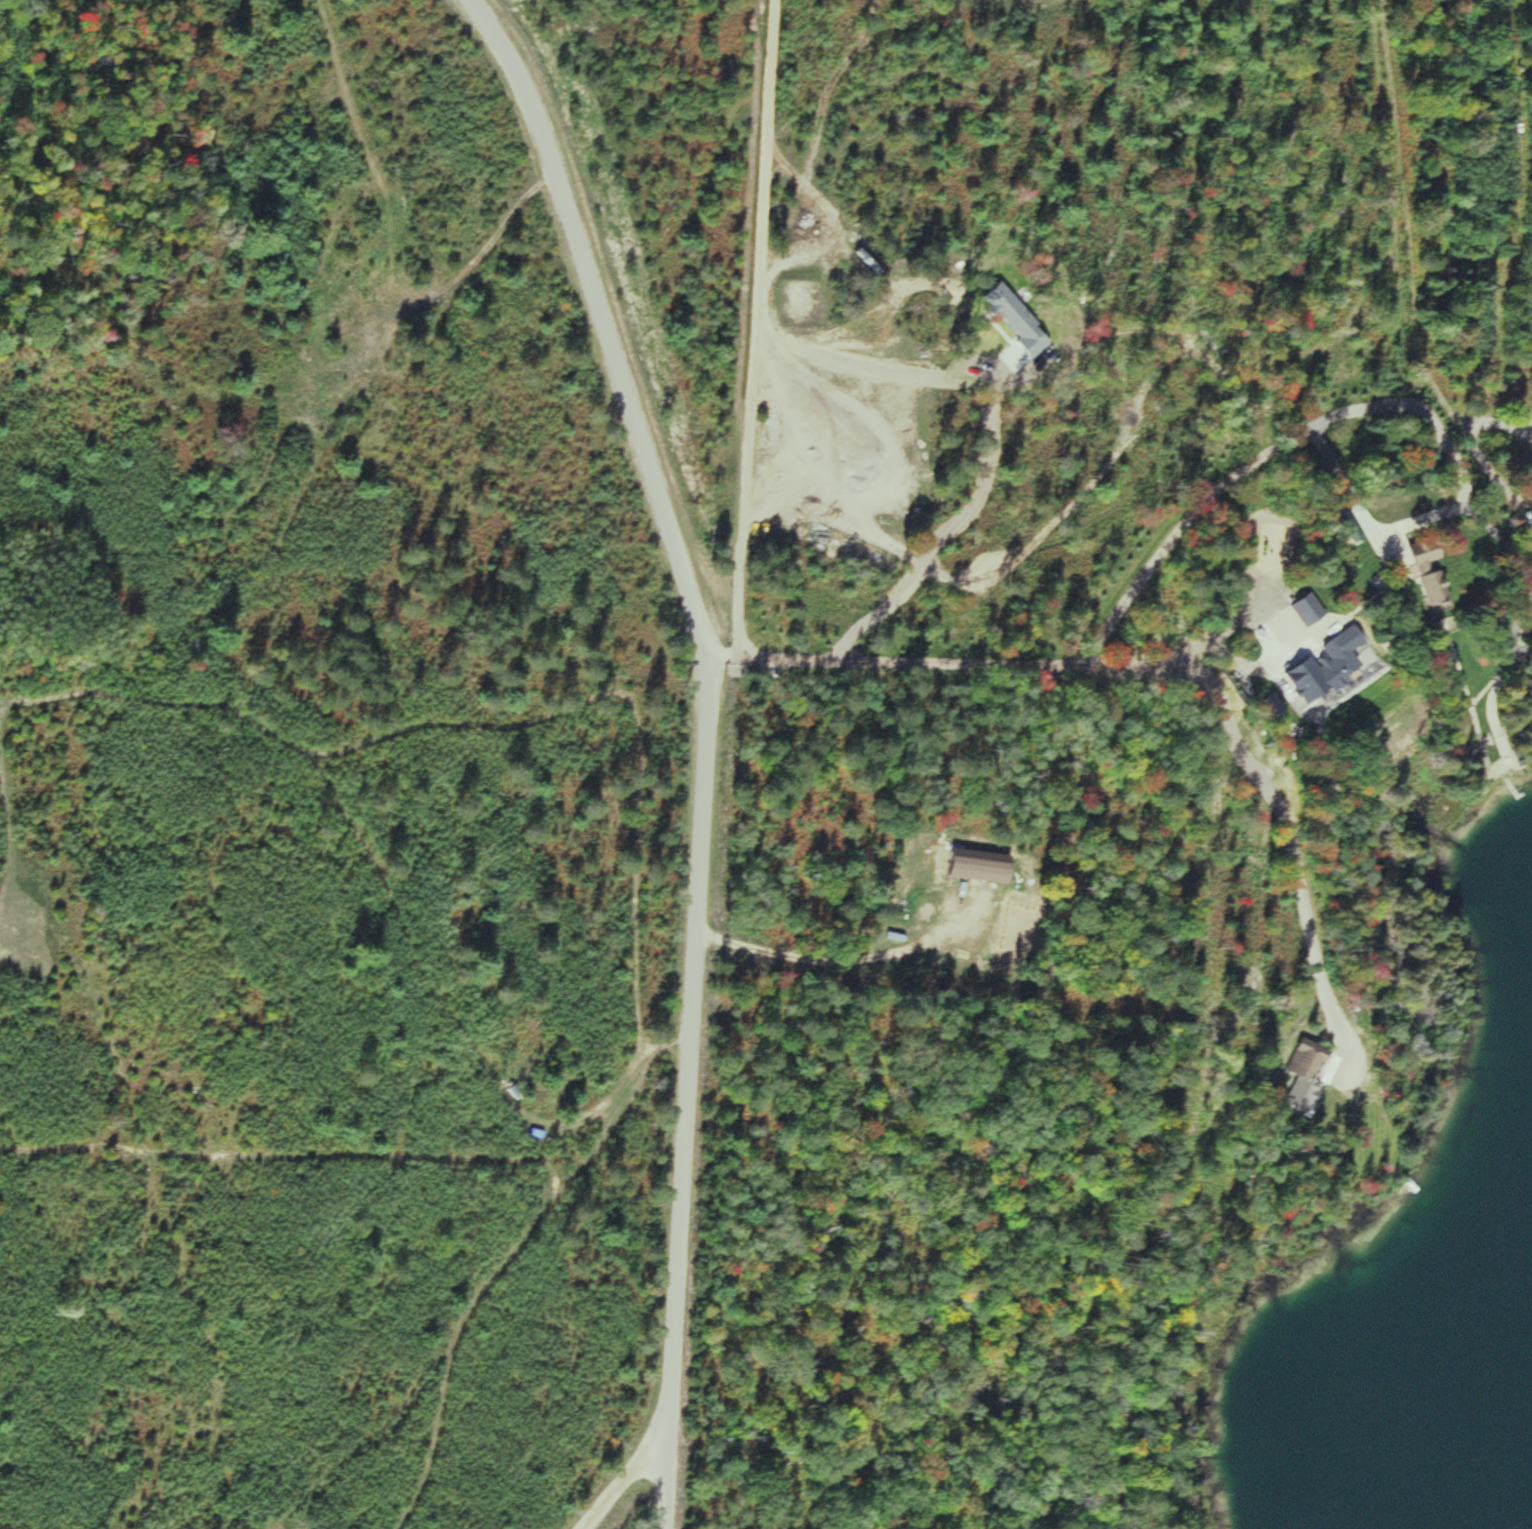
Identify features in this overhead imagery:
road: (1406, 221)
building: (1016, 315)
road: (603, 325)
road: (755, 329)
road: (1012, 354)
road: (1513, 410)
road: (1480, 418)
road: (1513, 425)
road: (1489, 458)
road: (1517, 497)
road: (1358, 505)
road: (1196, 512)
road: (948, 523)
road: (1397, 547)
building: (1438, 573)
road: (1517, 609)
building: (1316, 619)
road: (1518, 649)
building: (1352, 652)
road: (1274, 654)
road: (896, 660)
road: (1146, 667)
road: (158, 698)
road: (1298, 859)
building: (980, 862)
road: (830, 956)
road: (637, 995)
road: (693, 1045)
building: (1304, 1074)
road: (630, 1479)
road: (669, 1479)

